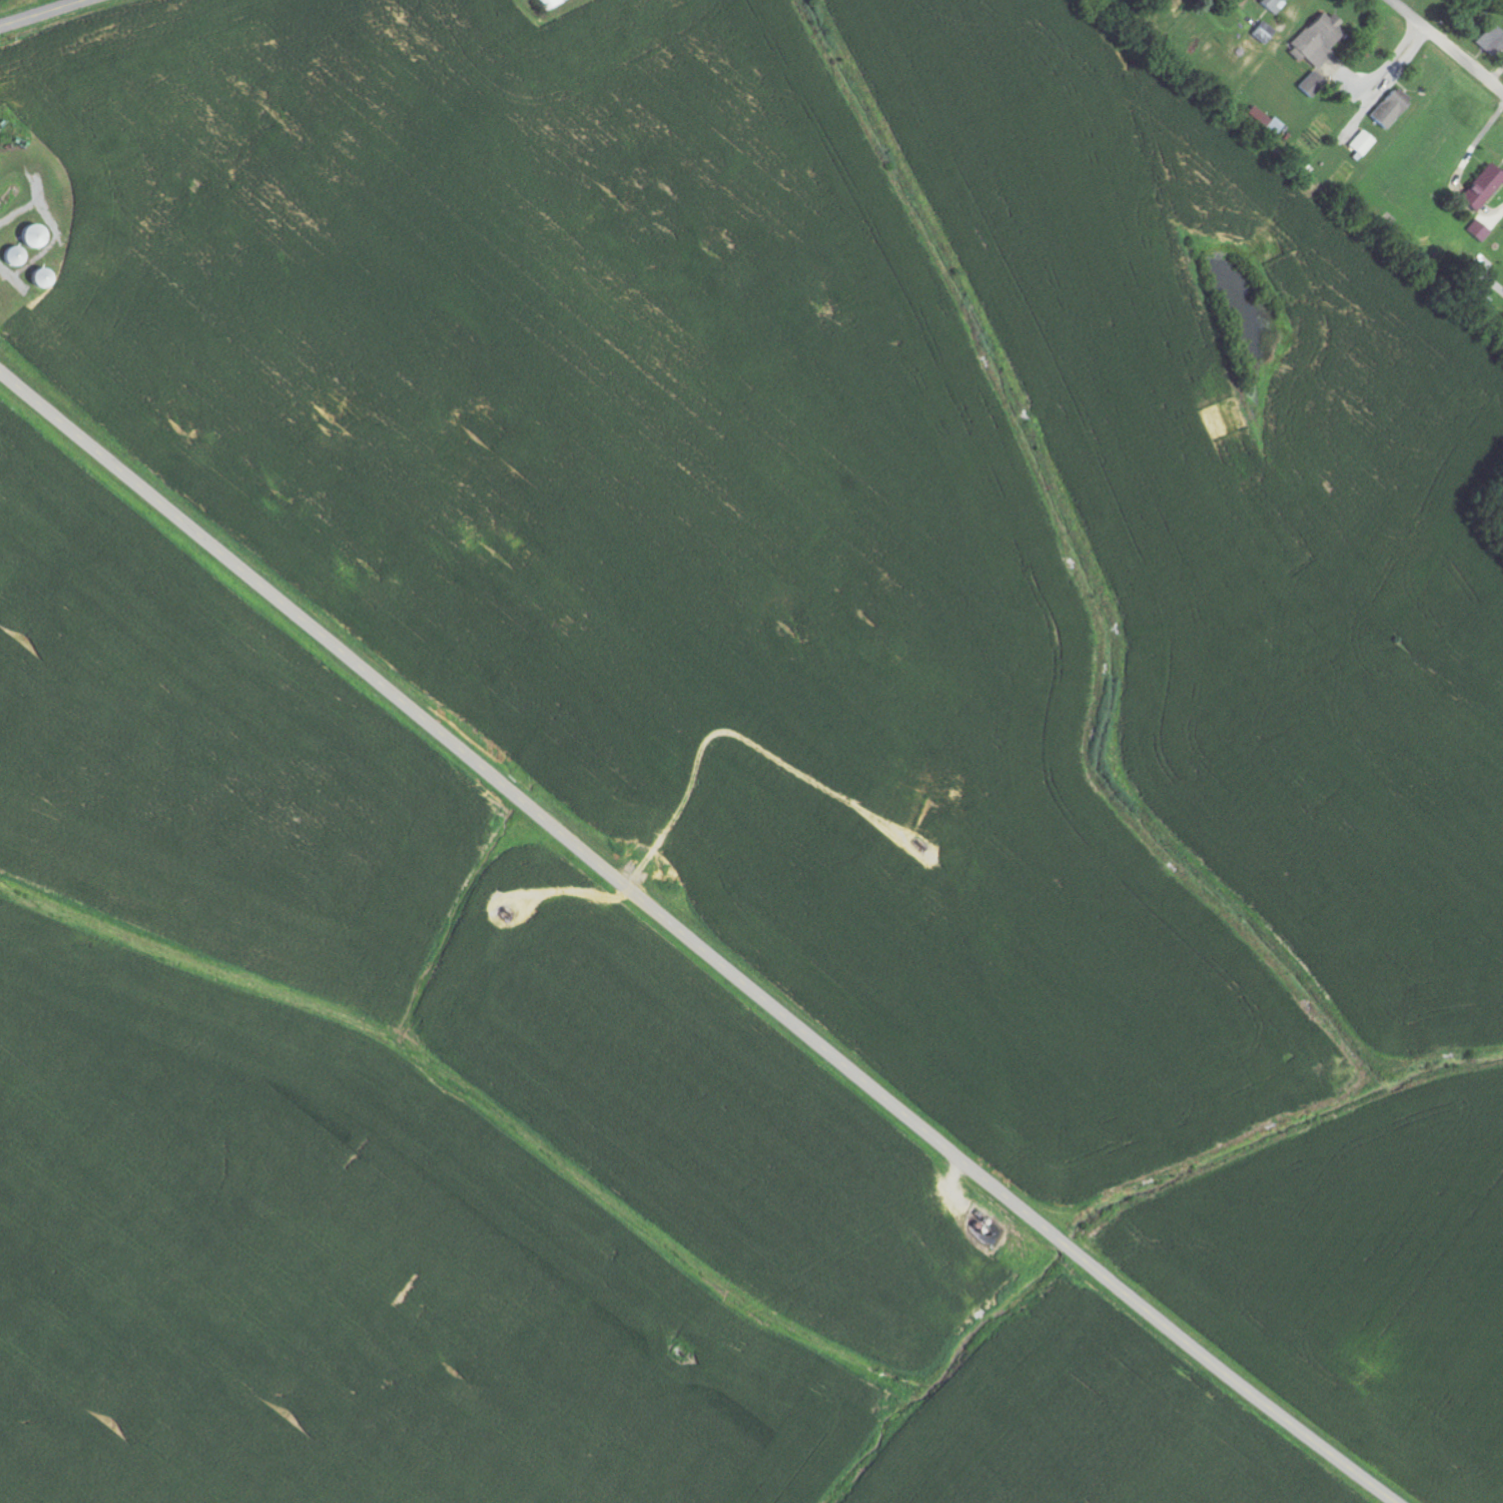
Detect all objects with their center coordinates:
building: (549, 4)
building: (1270, 5)
road: (42, 13)
building: (1488, 38)
building: (1314, 39)
road: (1447, 45)
building: (1307, 83)
building: (1385, 108)
building: (1268, 123)
building: (1359, 143)
road: (1311, 161)
building: (1477, 188)
building: (1470, 295)
road: (694, 941)

